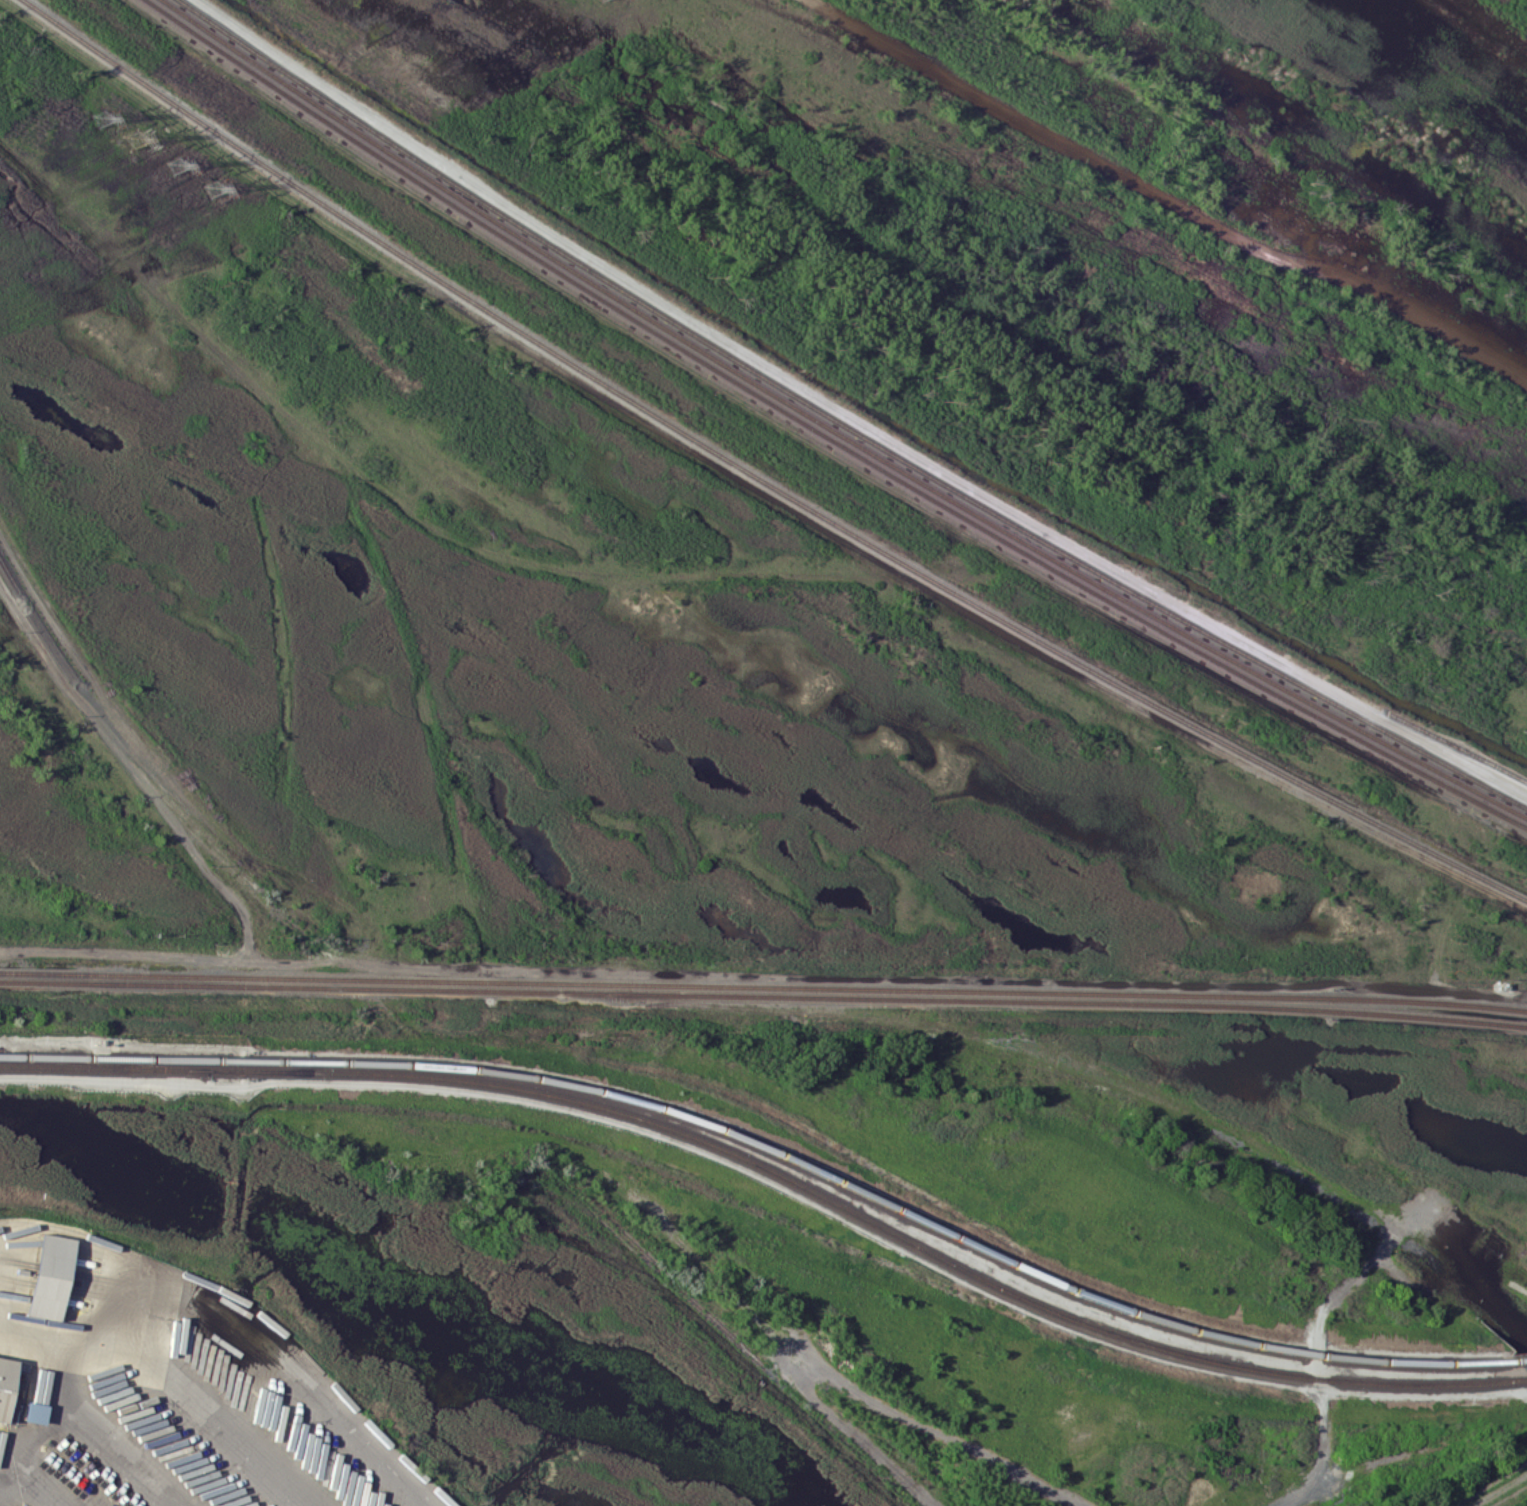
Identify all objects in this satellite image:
power tower: (100, 117)
power tower: (135, 139)
power tower: (174, 165)
power tower: (212, 187)
railway: (840, 423)
railway: (832, 429)
railway: (824, 435)
railway: (756, 479)
railway: (763, 986)
railway: (763, 996)
railway: (201, 1059)
railway: (103, 1063)
railway: (1081, 1074)
railway: (776, 1175)
railway: (824, 1176)
landfill: (1005, 1274)
building: (47, 1275)
railway: (1370, 1360)
railway: (1518, 1360)
building: (4, 1378)
building: (33, 1412)
road: (72, 1414)

